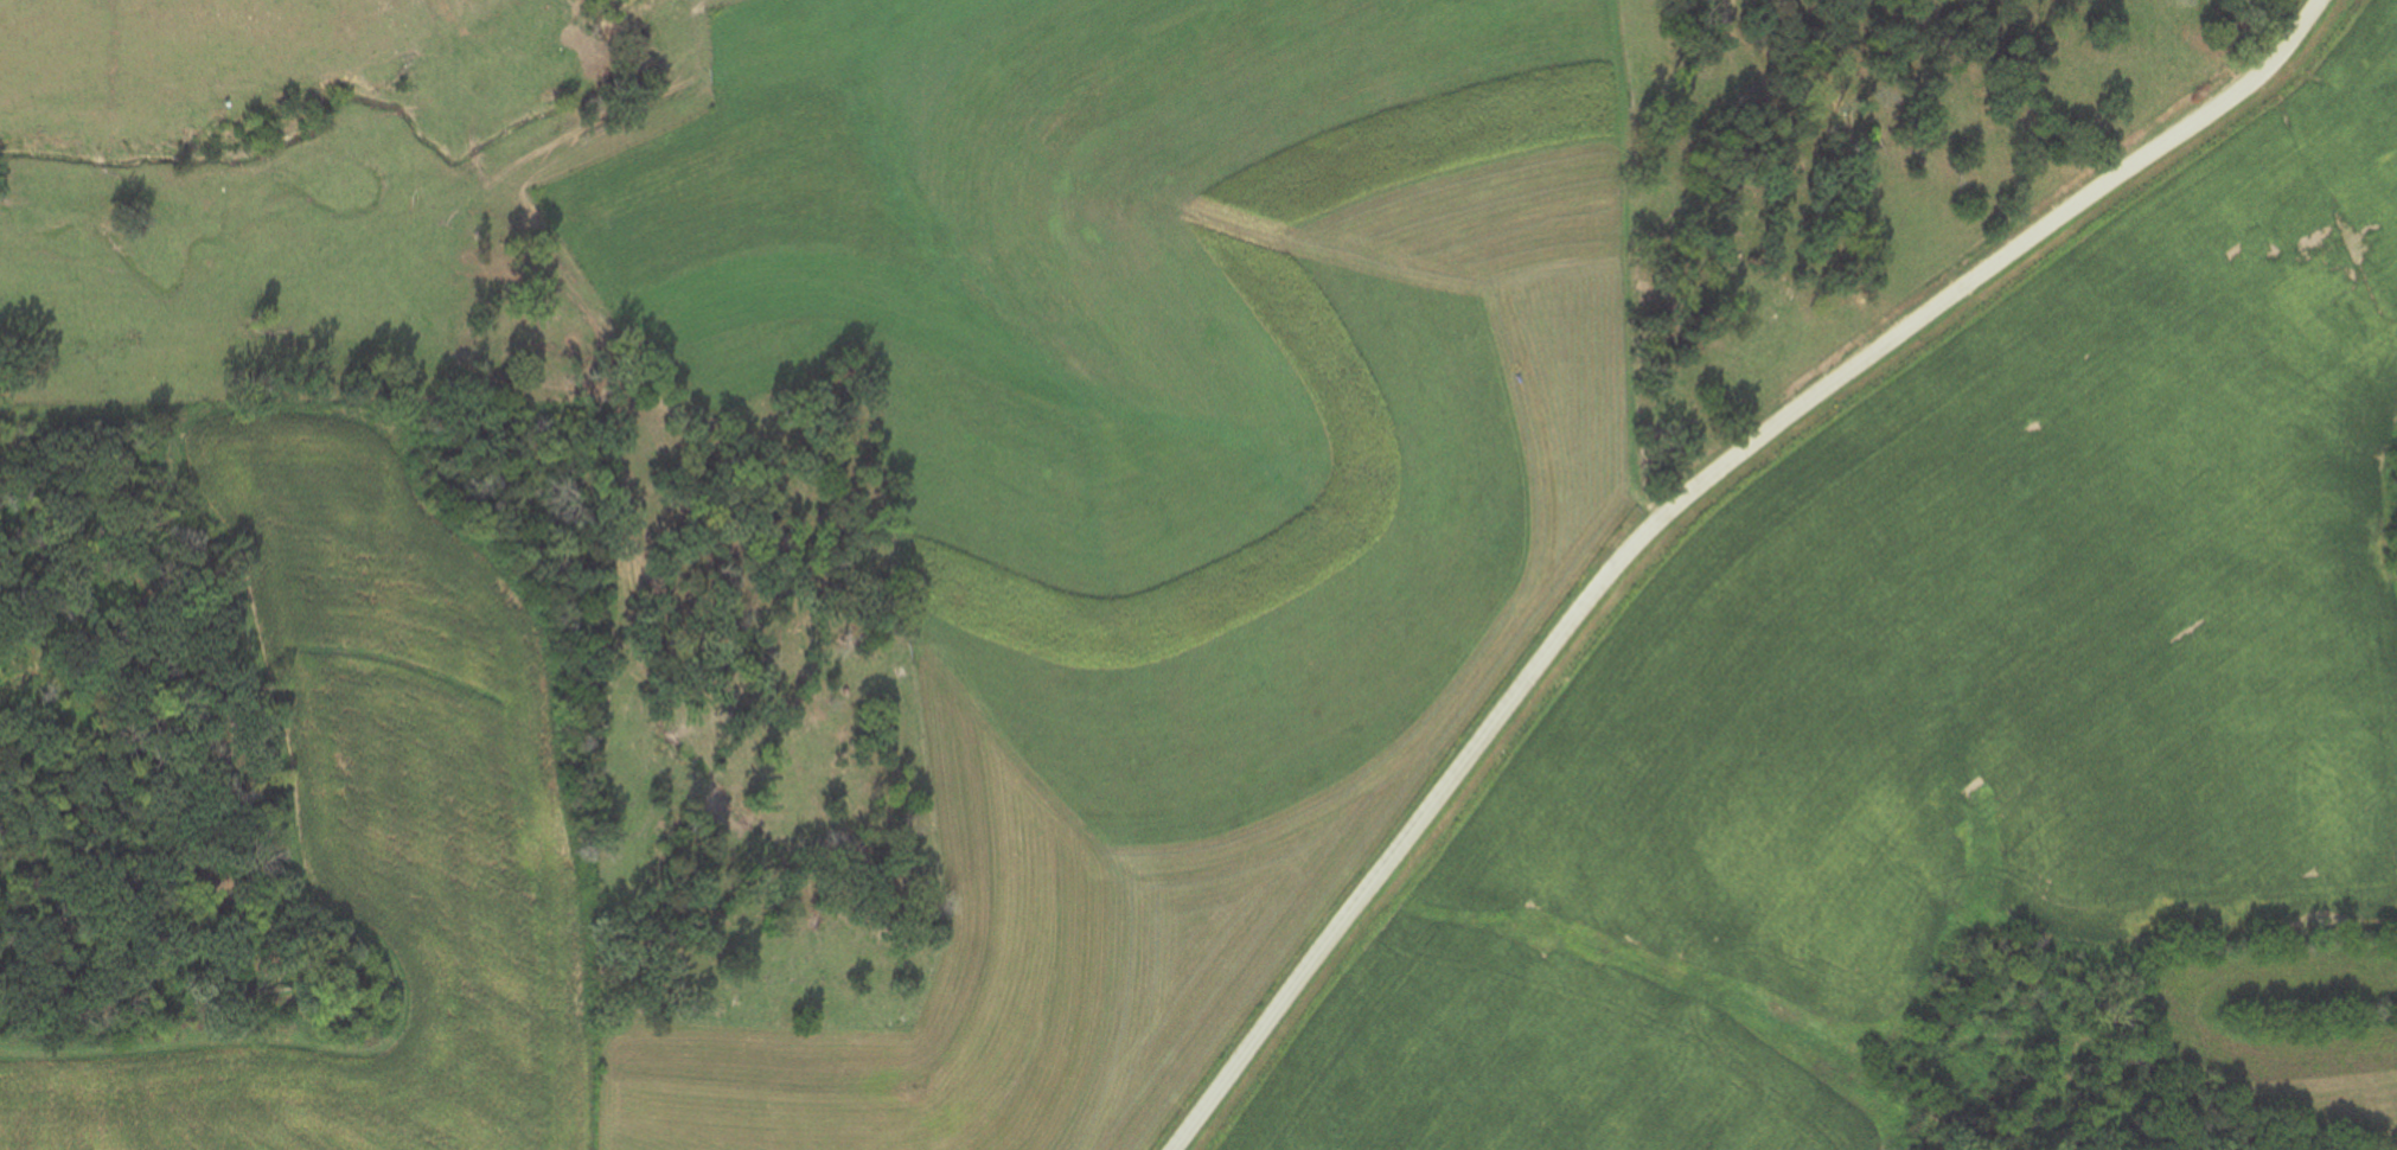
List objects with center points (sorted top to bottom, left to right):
road: (1677, 503)

